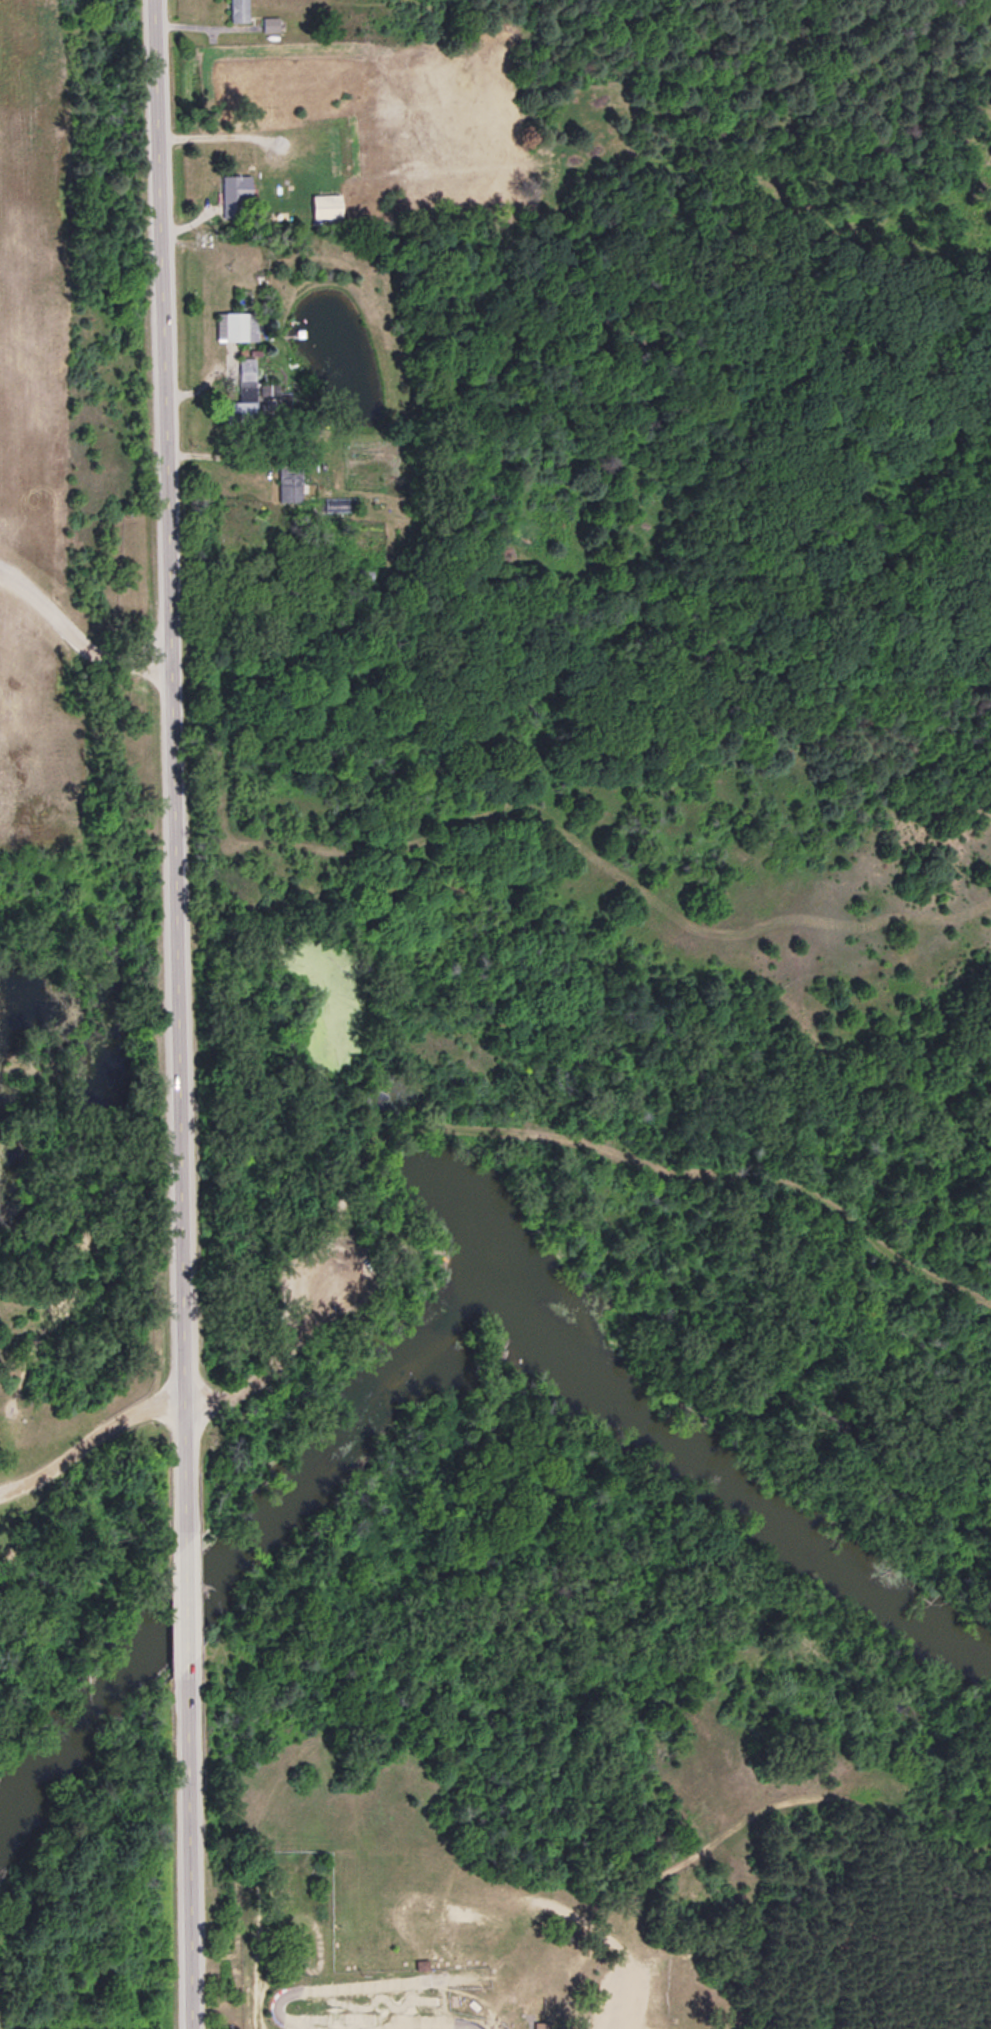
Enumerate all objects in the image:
building: (236, 10)
building: (267, 24)
building: (232, 192)
building: (234, 326)
building: (244, 369)
building: (252, 404)
building: (287, 484)
park: (72, 566)
road: (77, 634)
road: (172, 772)
park: (614, 1155)
road: (634, 1157)
river: (453, 1292)
road: (284, 1358)
road: (34, 1362)
road: (90, 1439)
park: (84, 1566)
road: (184, 1607)
road: (746, 1820)
road: (979, 1832)
road: (188, 1849)
park: (285, 1907)
building: (544, 2026)

